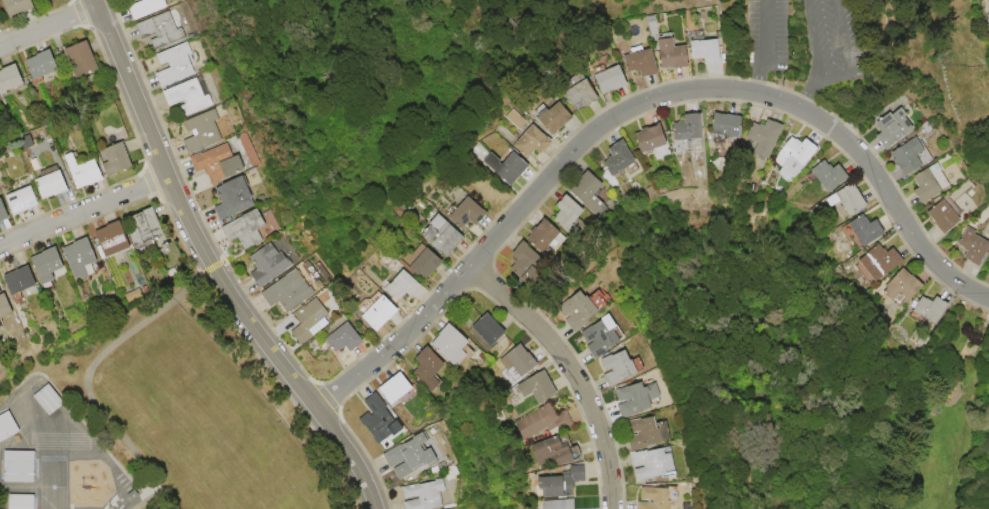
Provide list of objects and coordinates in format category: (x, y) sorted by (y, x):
building: (19, 6)
building: (146, 7)
building: (0, 20)
road: (50, 27)
building: (164, 30)
road: (772, 47)
building: (713, 50)
building: (678, 53)
road: (854, 55)
road: (817, 57)
building: (83, 60)
building: (646, 62)
building: (179, 64)
building: (42, 65)
building: (11, 79)
building: (615, 79)
building: (586, 95)
building: (191, 97)
road: (636, 106)
building: (559, 117)
building: (731, 125)
building: (904, 126)
building: (205, 132)
building: (691, 135)
building: (768, 137)
building: (537, 140)
building: (656, 142)
building: (799, 155)
building: (918, 155)
building: (117, 160)
building: (214, 163)
building: (237, 166)
building: (510, 166)
building: (630, 168)
building: (87, 173)
building: (831, 175)
building: (53, 185)
building: (934, 186)
building: (593, 191)
building: (236, 197)
building: (24, 200)
building: (852, 200)
building: (4, 211)
road: (85, 212)
building: (469, 213)
building: (950, 216)
building: (576, 217)
building: (147, 227)
building: (248, 229)
building: (868, 229)
building: (444, 235)
building: (544, 237)
building: (113, 242)
building: (977, 245)
building: (83, 258)
building: (882, 261)
building: (531, 262)
building: (270, 264)
building: (427, 264)
building: (51, 265)
road: (214, 268)
building: (22, 280)
building: (403, 286)
building: (905, 286)
building: (289, 292)
building: (6, 305)
building: (584, 307)
building: (933, 308)
building: (381, 313)
building: (312, 320)
building: (491, 329)
building: (606, 335)
building: (347, 339)
building: (454, 345)
building: (521, 362)
building: (622, 368)
building: (432, 369)
road: (573, 371)
park: (799, 380)
building: (536, 388)
building: (399, 389)
building: (639, 399)
building: (383, 421)
building: (537, 422)
building: (6, 425)
building: (649, 433)
building: (557, 452)
building: (414, 459)
building: (656, 465)
building: (19, 466)
building: (563, 482)
building: (429, 495)
building: (659, 498)
building: (22, 501)
building: (559, 504)

